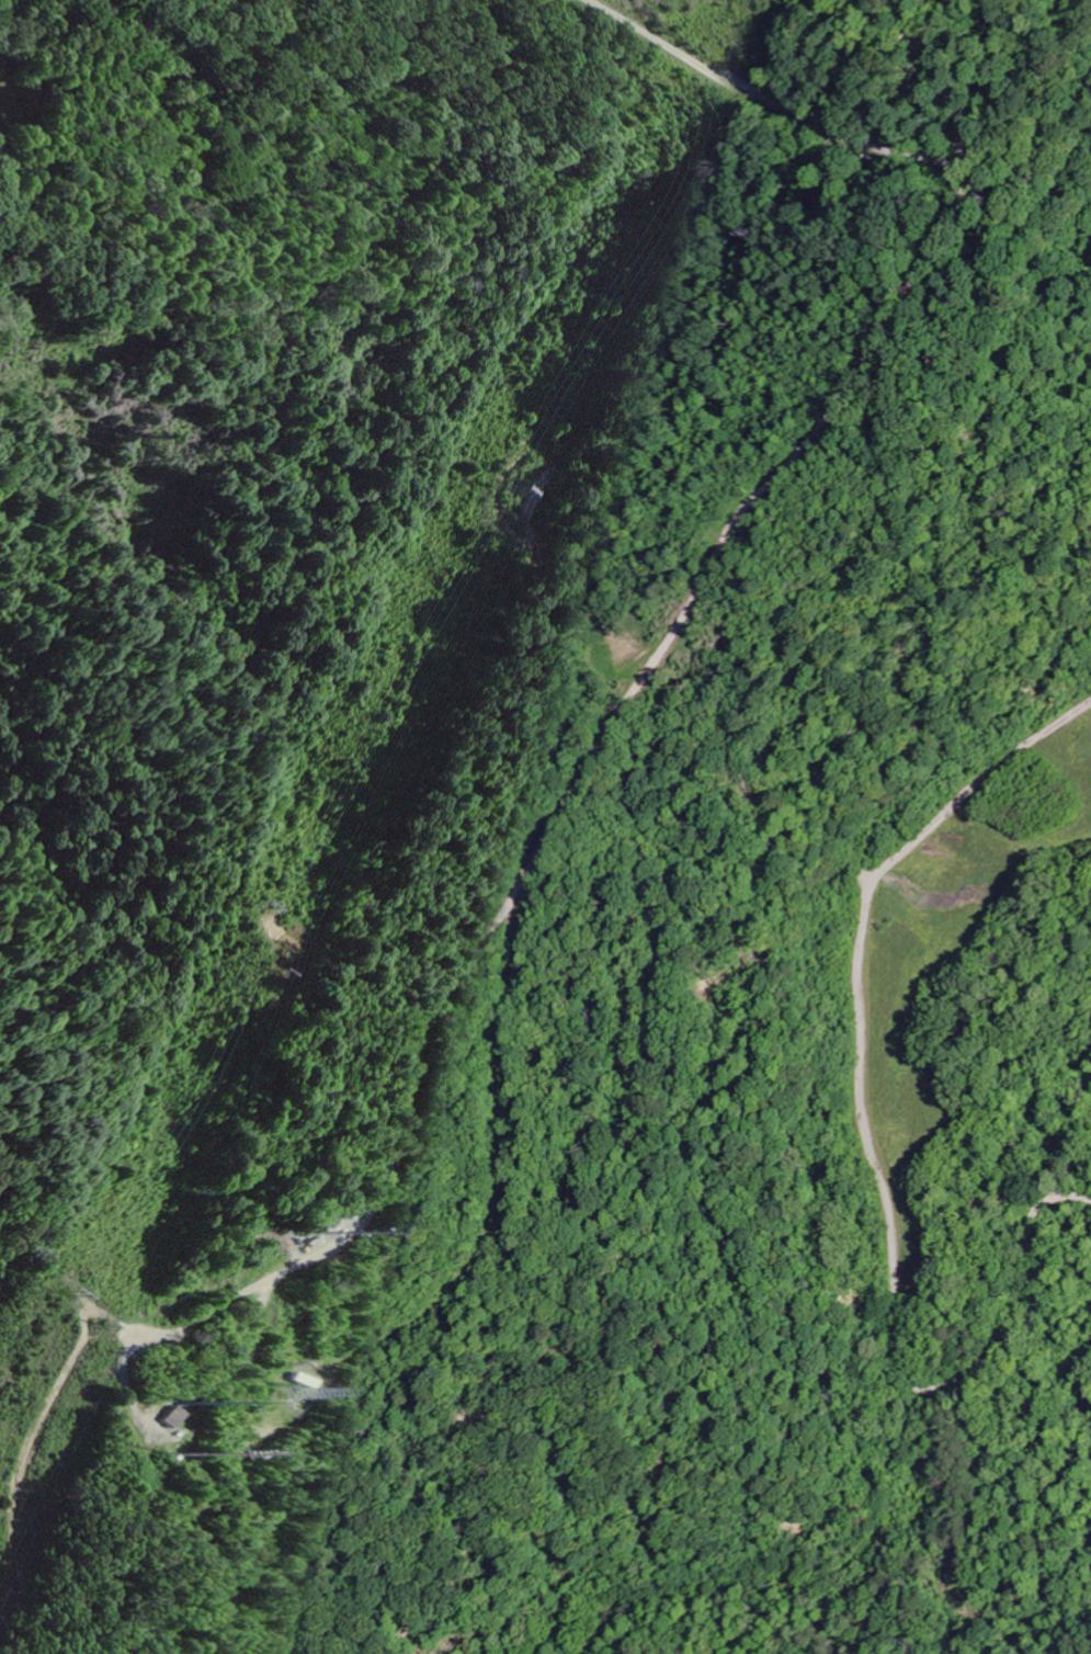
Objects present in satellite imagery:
building: (194, 1416)

